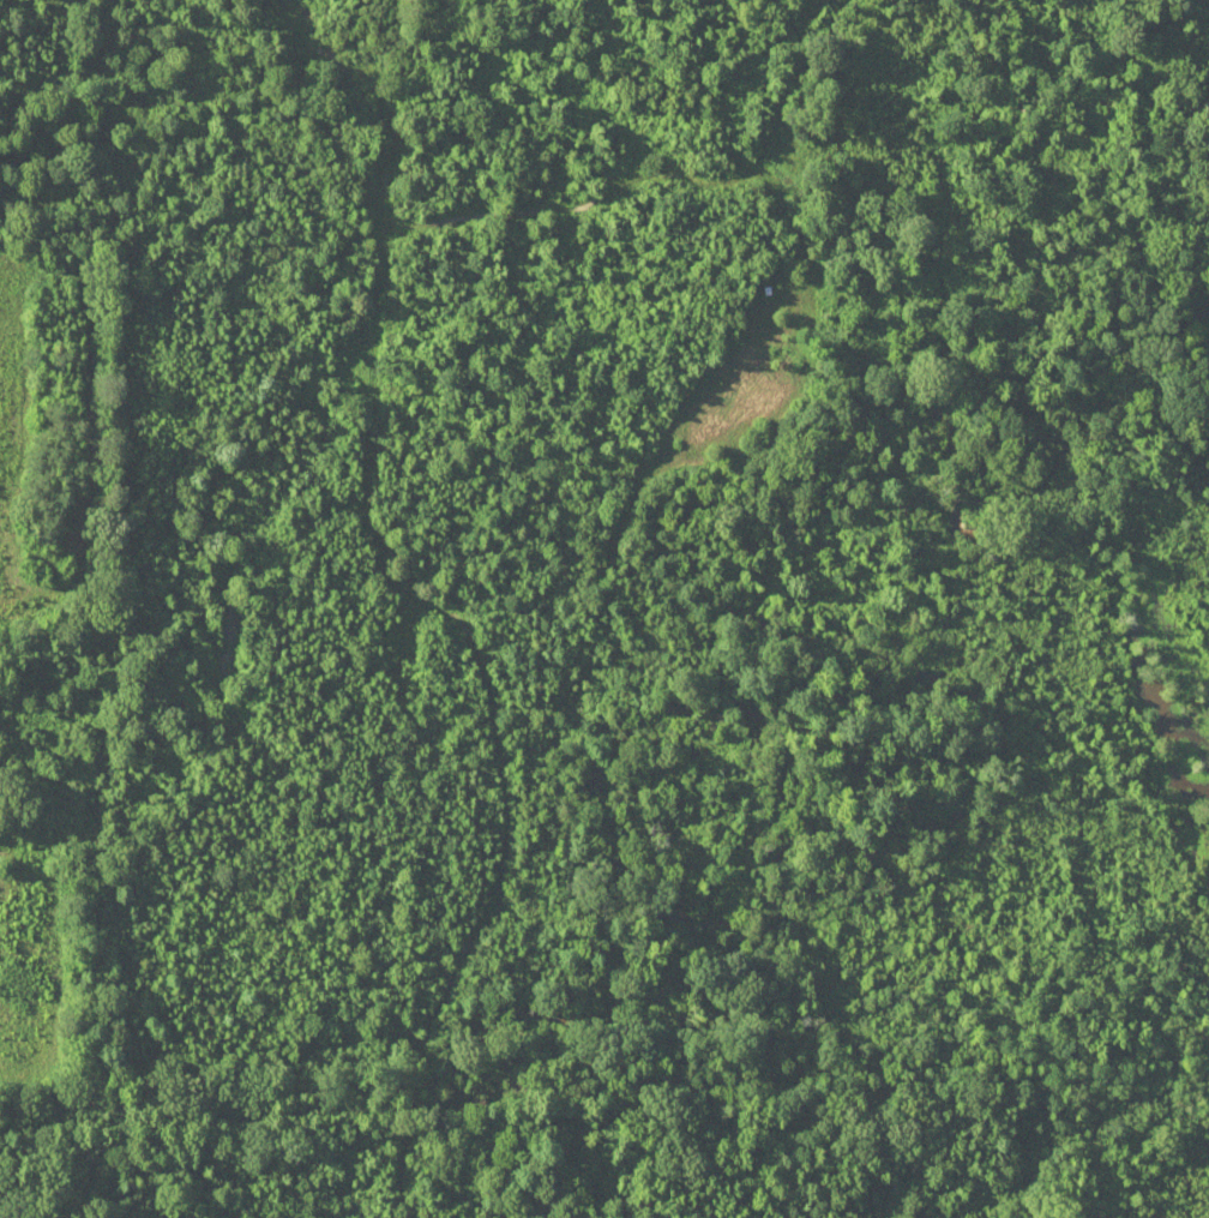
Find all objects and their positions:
railway: (604, 1091)

